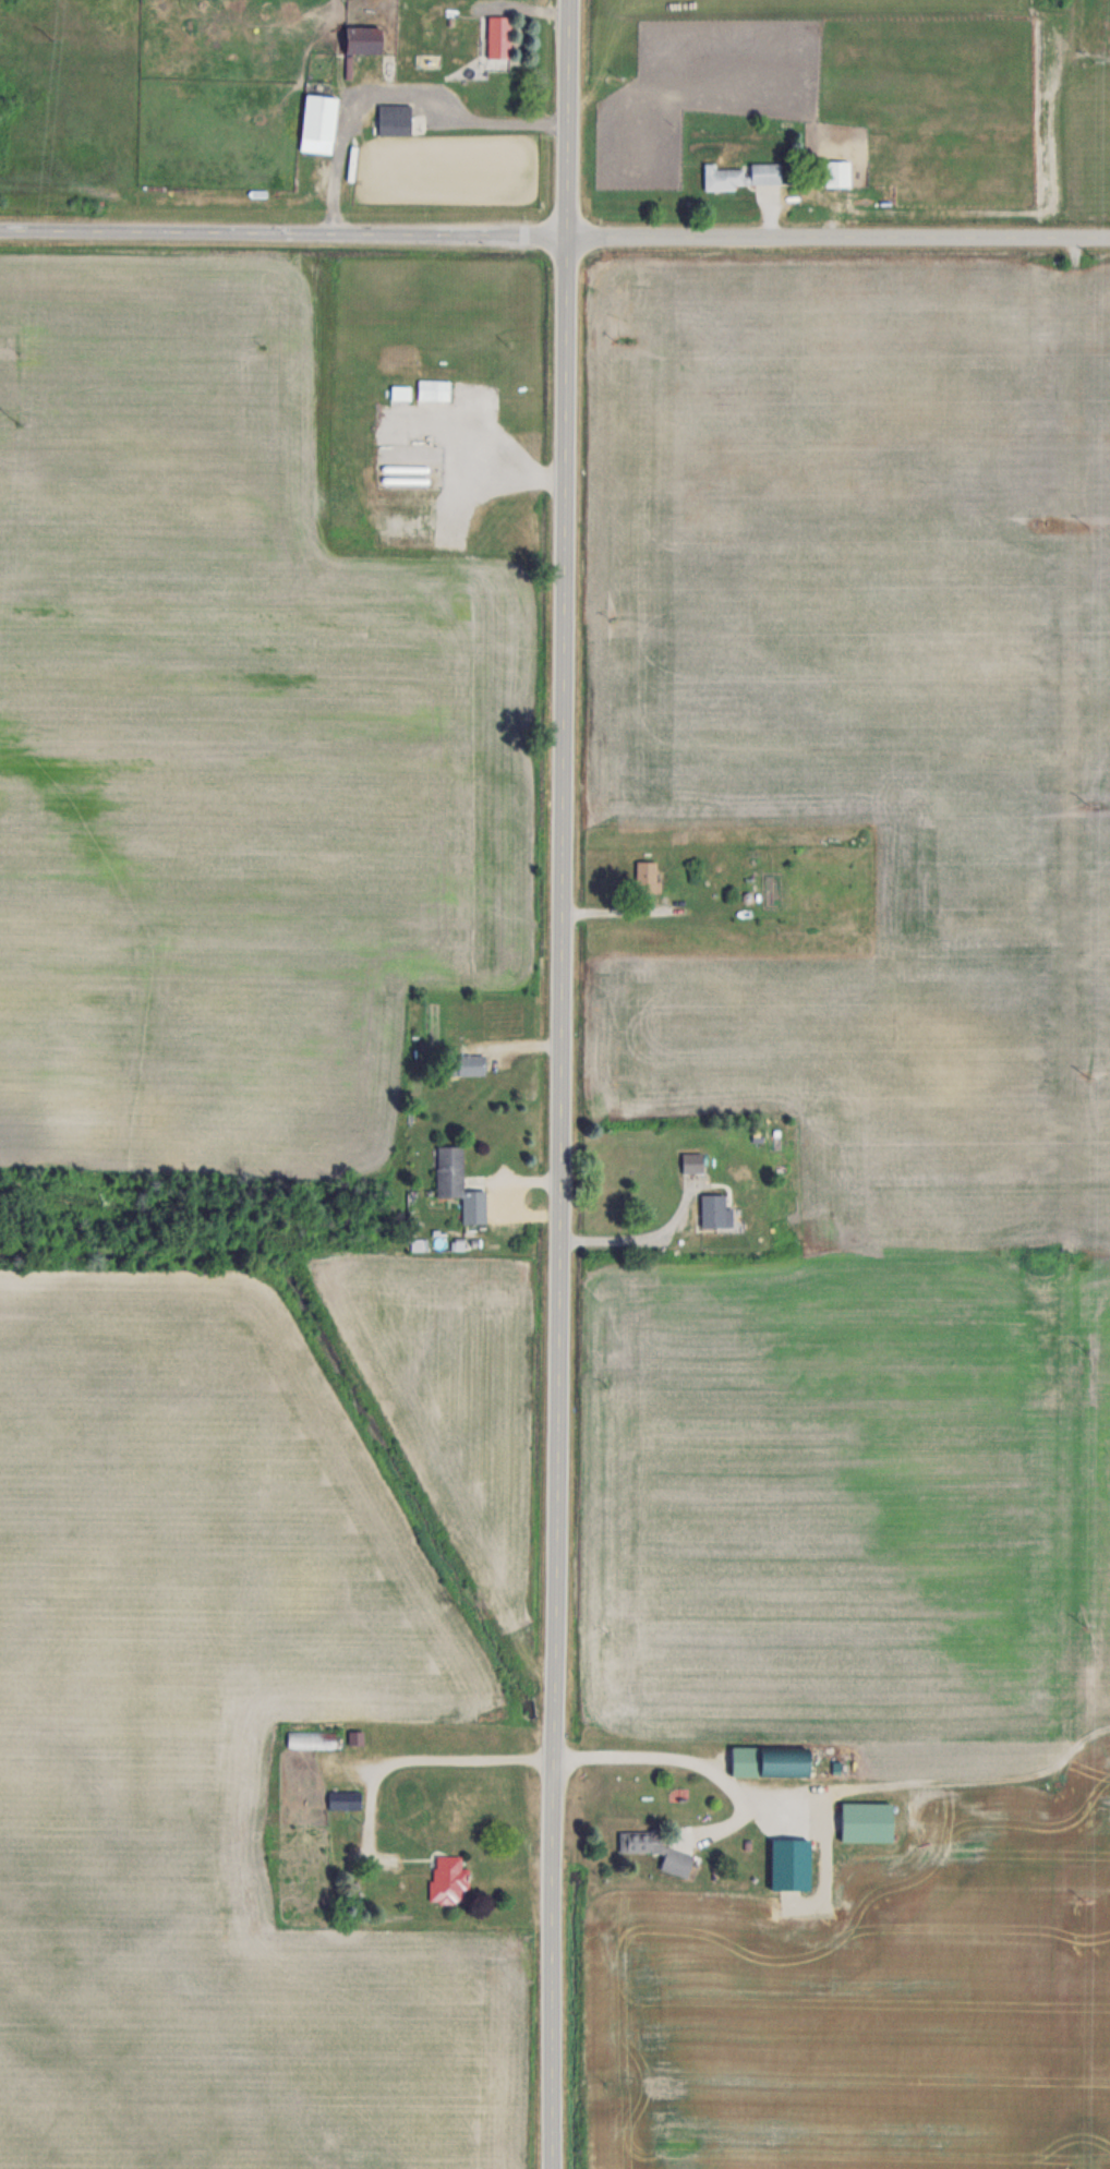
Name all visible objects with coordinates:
building: (498, 36)
building: (361, 39)
road: (385, 89)
building: (394, 119)
building: (317, 123)
building: (765, 172)
building: (836, 173)
building: (723, 178)
road: (554, 238)
building: (434, 389)
building: (400, 391)
building: (647, 876)
building: (470, 1065)
road: (563, 1084)
building: (692, 1162)
building: (449, 1170)
building: (714, 1210)
road: (643, 1234)
building: (355, 1737)
building: (311, 1739)
building: (769, 1760)
building: (343, 1799)
building: (866, 1821)
building: (656, 1849)
building: (448, 1879)

